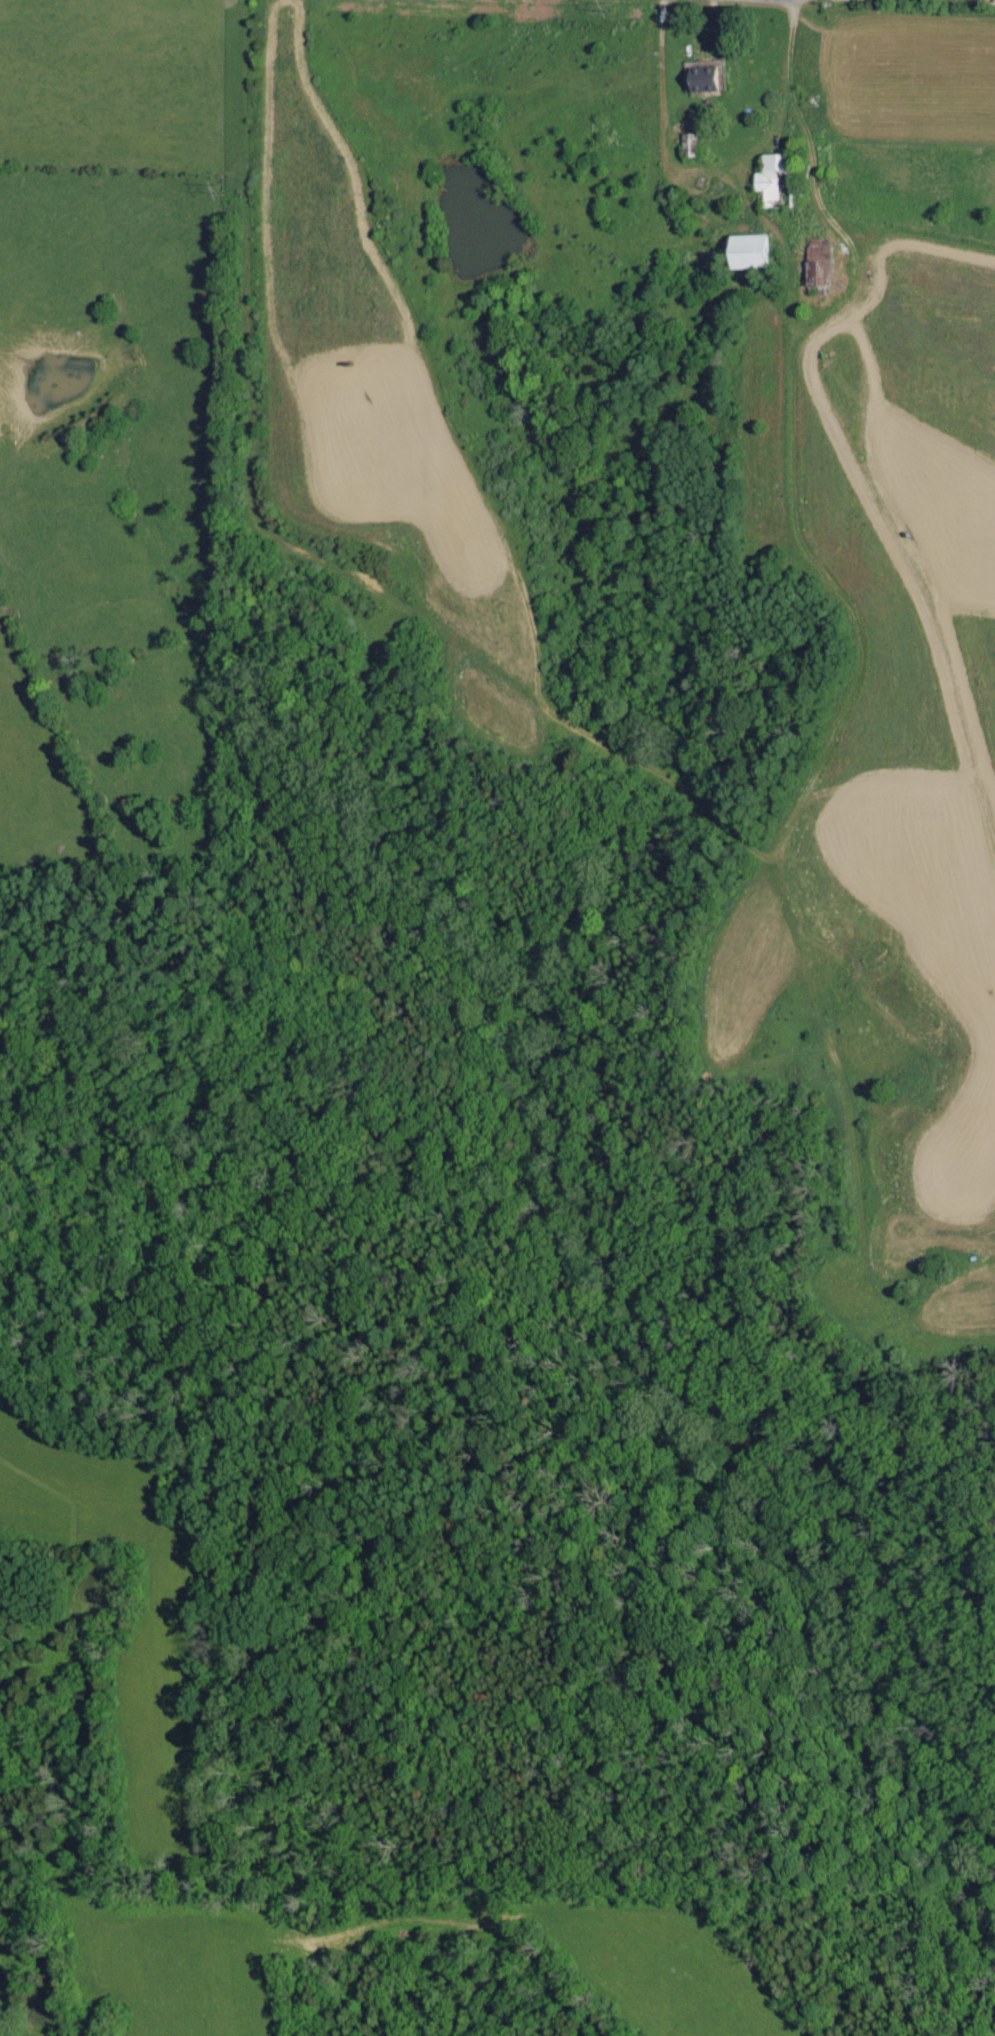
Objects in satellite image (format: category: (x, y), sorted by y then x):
power tower: (612, 10)
building: (709, 81)
building: (775, 181)
power tower: (226, 197)
building: (755, 253)

